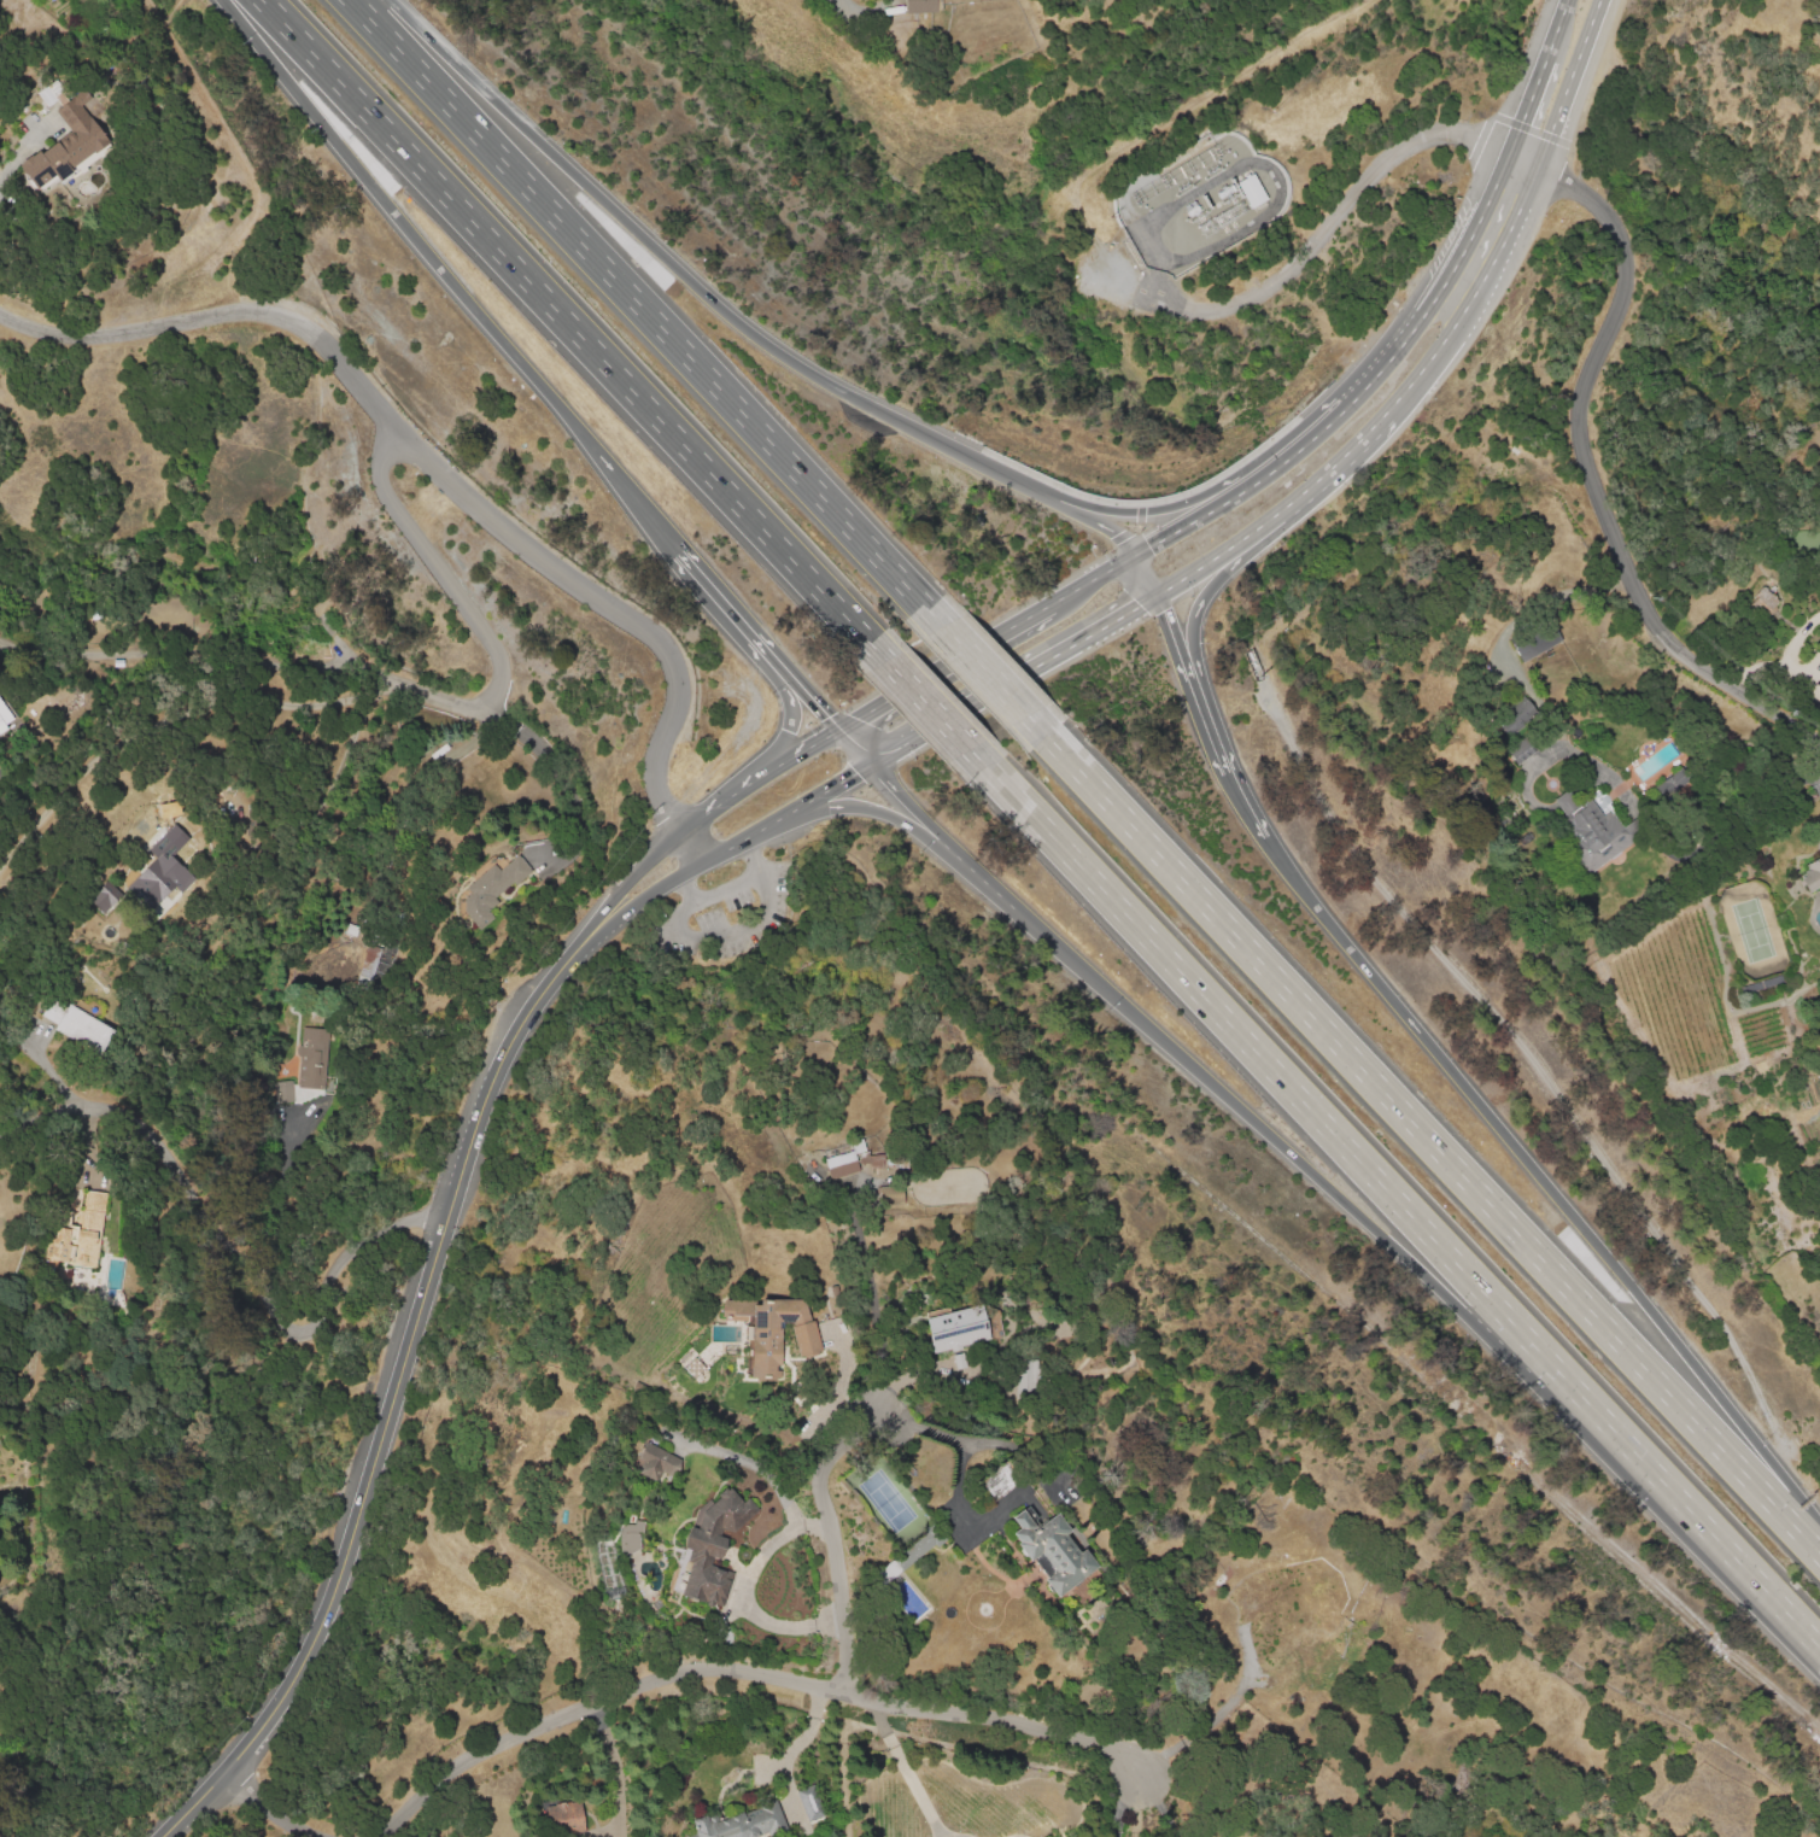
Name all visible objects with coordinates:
building: (921, 6)
road: (1556, 30)
road: (1572, 86)
building: (52, 92)
road: (1527, 104)
building: (69, 150)
road: (250, 174)
building: (1250, 189)
power substation: (1199, 201)
road: (1318, 229)
road: (450, 276)
road: (696, 288)
road: (1477, 296)
road: (638, 303)
road: (563, 320)
road: (1404, 341)
road: (1379, 427)
road: (427, 466)
road: (1586, 467)
road: (1315, 485)
road: (1151, 511)
road: (1100, 523)
traffic signals: (1149, 548)
road: (1143, 550)
road: (28, 561)
road: (1212, 561)
road: (1147, 574)
road: (350, 583)
road: (263, 584)
road: (40, 596)
road: (722, 597)
road: (1200, 601)
building: (1765, 604)
traffic signals: (1136, 608)
traffic signals: (1165, 614)
road: (39, 624)
road: (324, 625)
building: (1534, 640)
road: (1177, 648)
road: (343, 651)
road: (1058, 654)
road: (1508, 659)
road: (943, 668)
road: (987, 672)
road: (405, 686)
road: (801, 686)
road: (930, 707)
road: (789, 716)
building: (4, 718)
traffic signals: (829, 718)
building: (1509, 719)
traffic signals: (858, 720)
road: (172, 729)
road: (1207, 732)
road: (917, 739)
road: (858, 748)
building: (1520, 750)
traffic signals: (855, 777)
road: (761, 779)
building: (1669, 784)
road: (1243, 802)
road: (790, 814)
building: (1594, 832)
road: (925, 838)
road: (694, 848)
building: (538, 850)
building: (160, 870)
parking lot: (738, 873)
road: (686, 874)
building: (1812, 874)
road: (630, 882)
road: (731, 885)
building: (492, 888)
building: (109, 896)
road: (625, 909)
parking lot: (726, 917)
road: (749, 930)
building: (349, 931)
building: (368, 963)
building: (88, 1032)
building: (310, 1065)
road: (1540, 1073)
road: (1434, 1141)
building: (878, 1158)
building: (848, 1162)
road: (1531, 1162)
road: (1347, 1206)
road: (1405, 1210)
road: (275, 1216)
building: (82, 1233)
road: (223, 1258)
building: (765, 1329)
building: (965, 1330)
building: (809, 1341)
building: (1024, 1374)
road: (390, 1398)
road: (956, 1458)
building: (660, 1462)
building: (1005, 1482)
road: (821, 1503)
road: (1806, 1504)
building: (1063, 1554)
building: (907, 1555)
building: (707, 1557)
road: (760, 1567)
road: (744, 1675)
road: (613, 1769)
road: (905, 1769)
building: (812, 1804)
road: (1122, 1806)
road: (267, 1807)
road: (1161, 1808)
building: (566, 1816)
building: (748, 1825)
road: (960, 1836)

